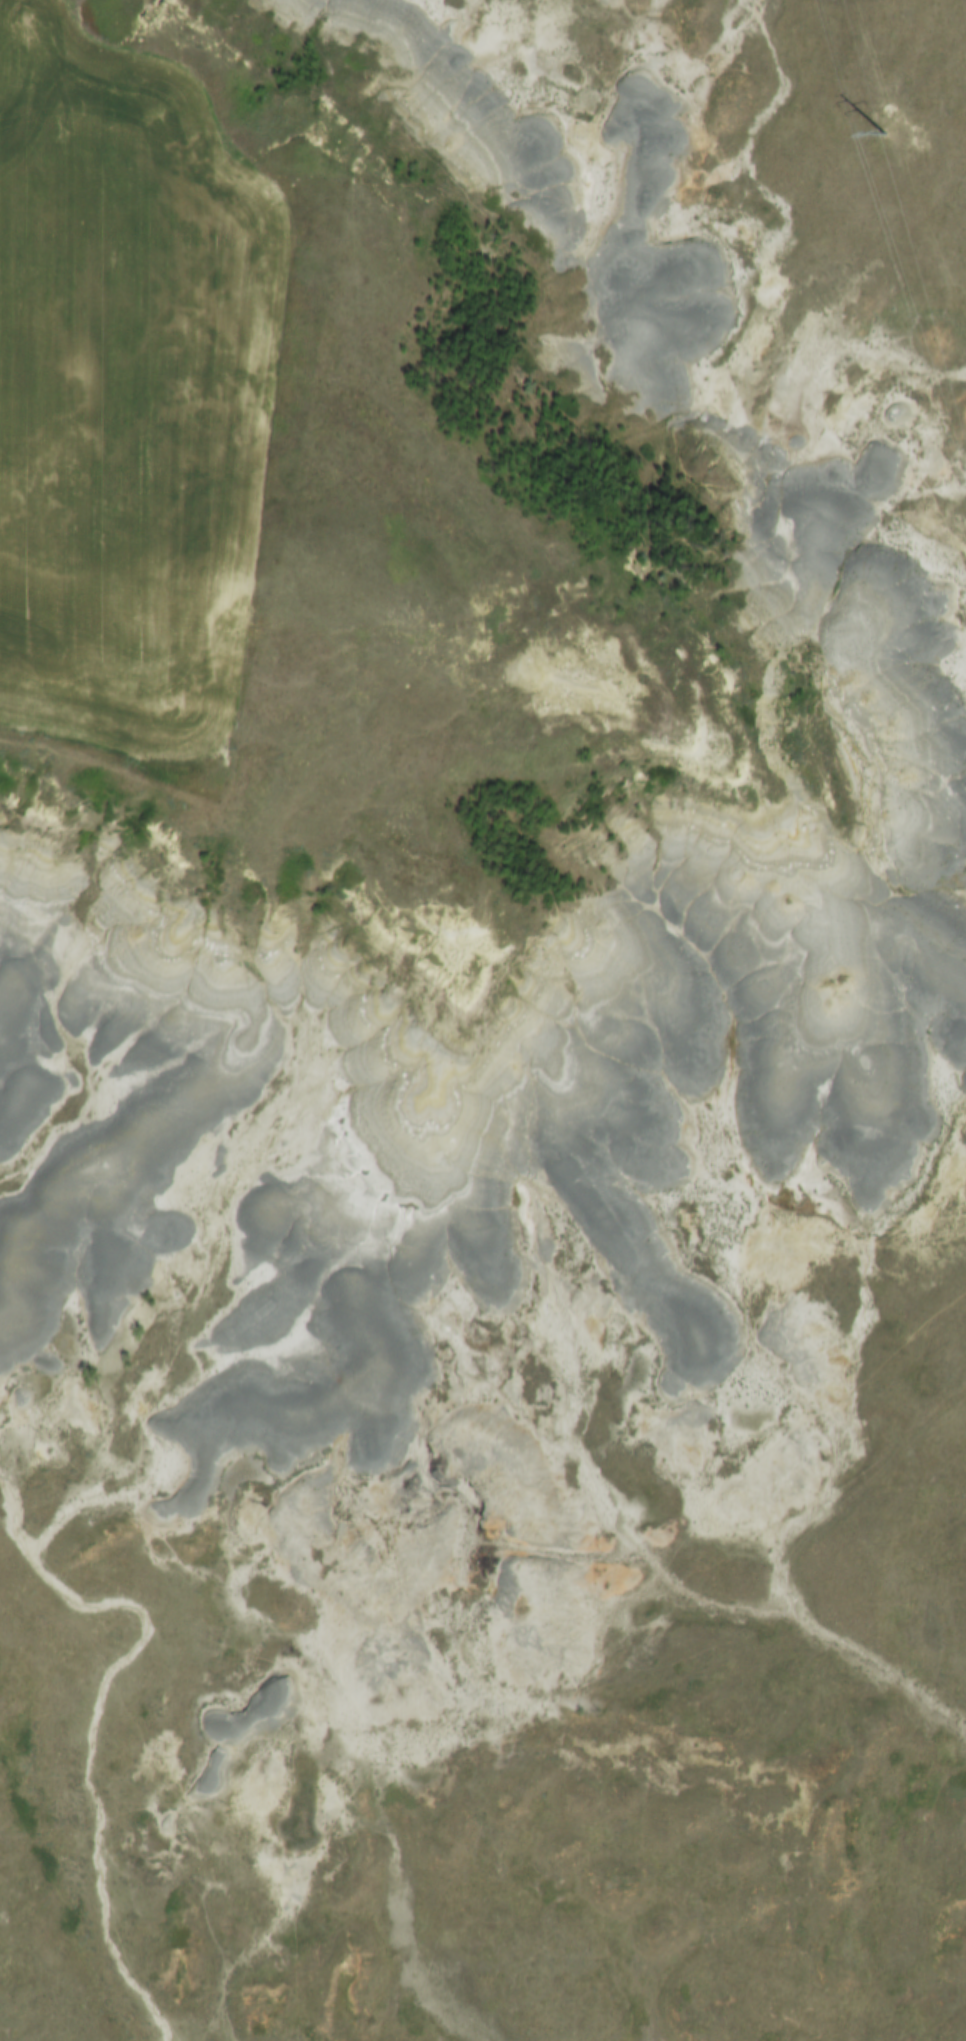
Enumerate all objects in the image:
power tower: (889, 132)

